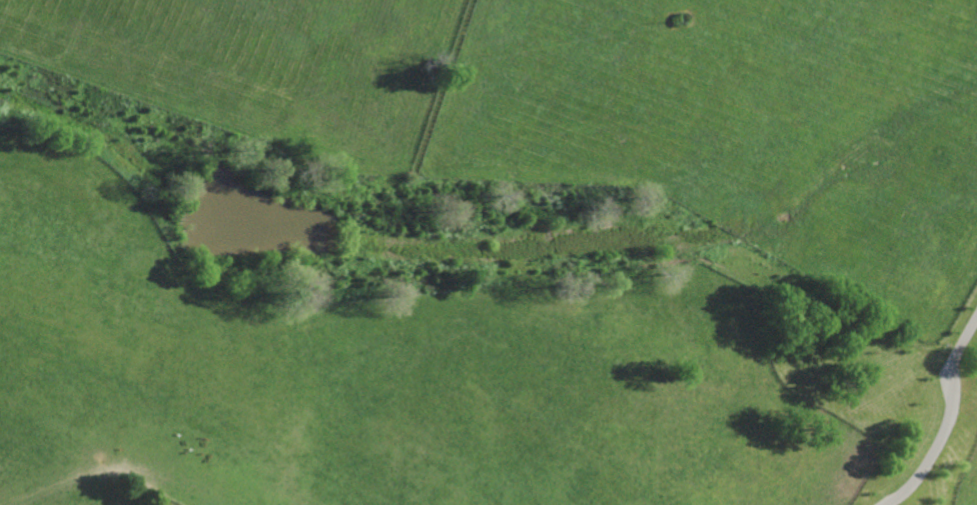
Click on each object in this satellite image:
road: (949, 418)

